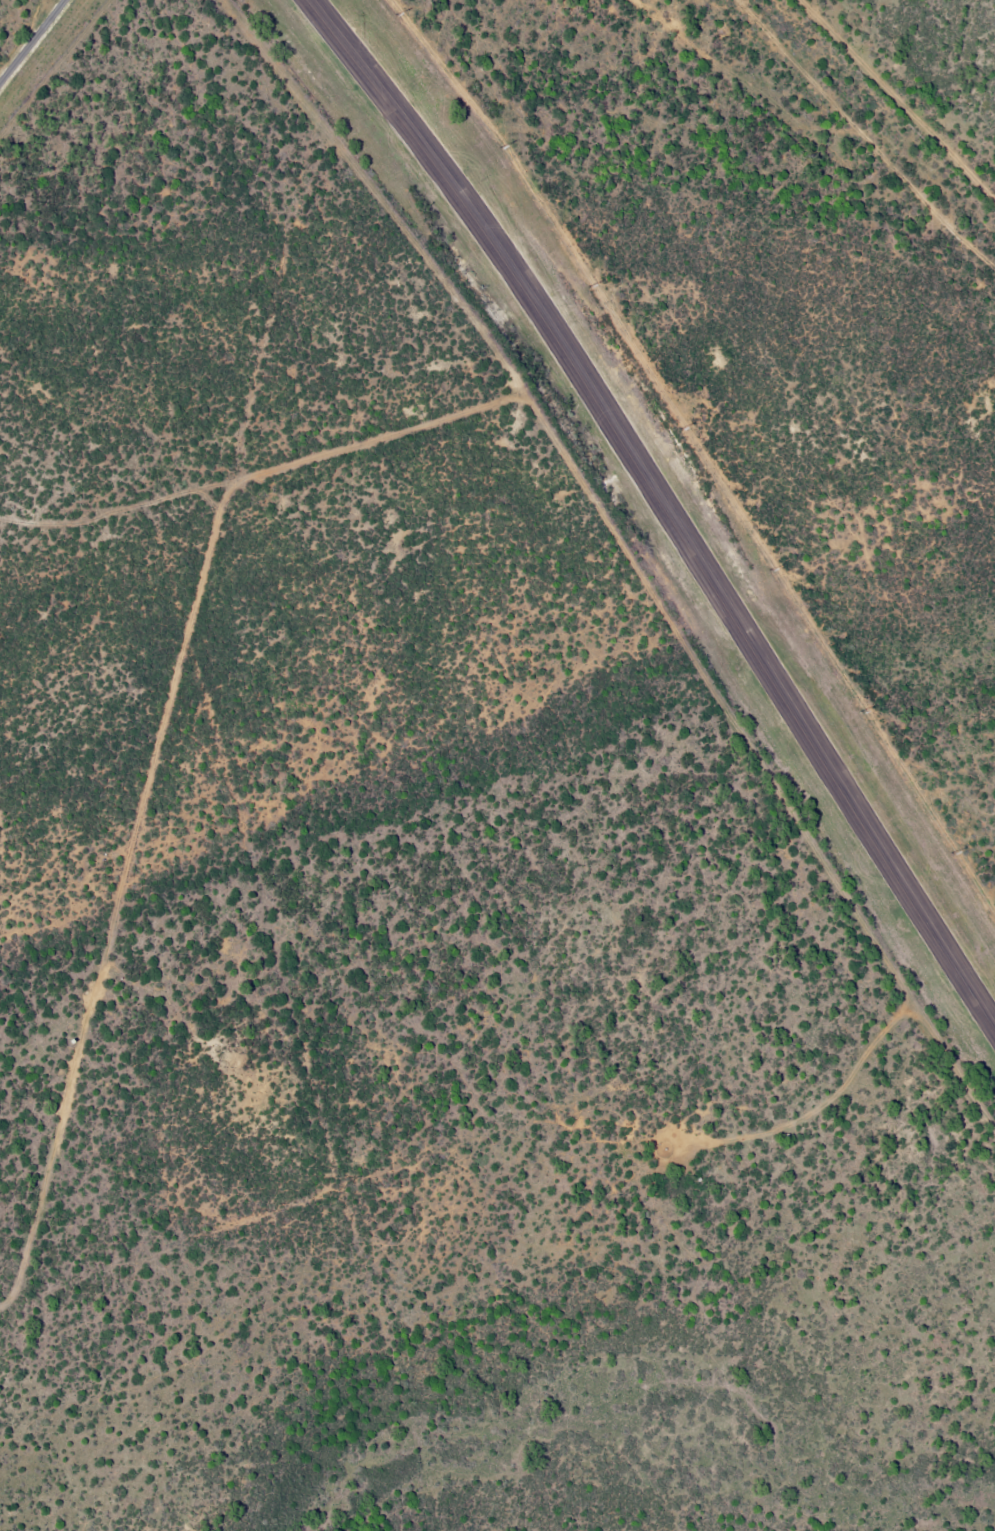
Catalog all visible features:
road: (14, 11)
road: (666, 497)

